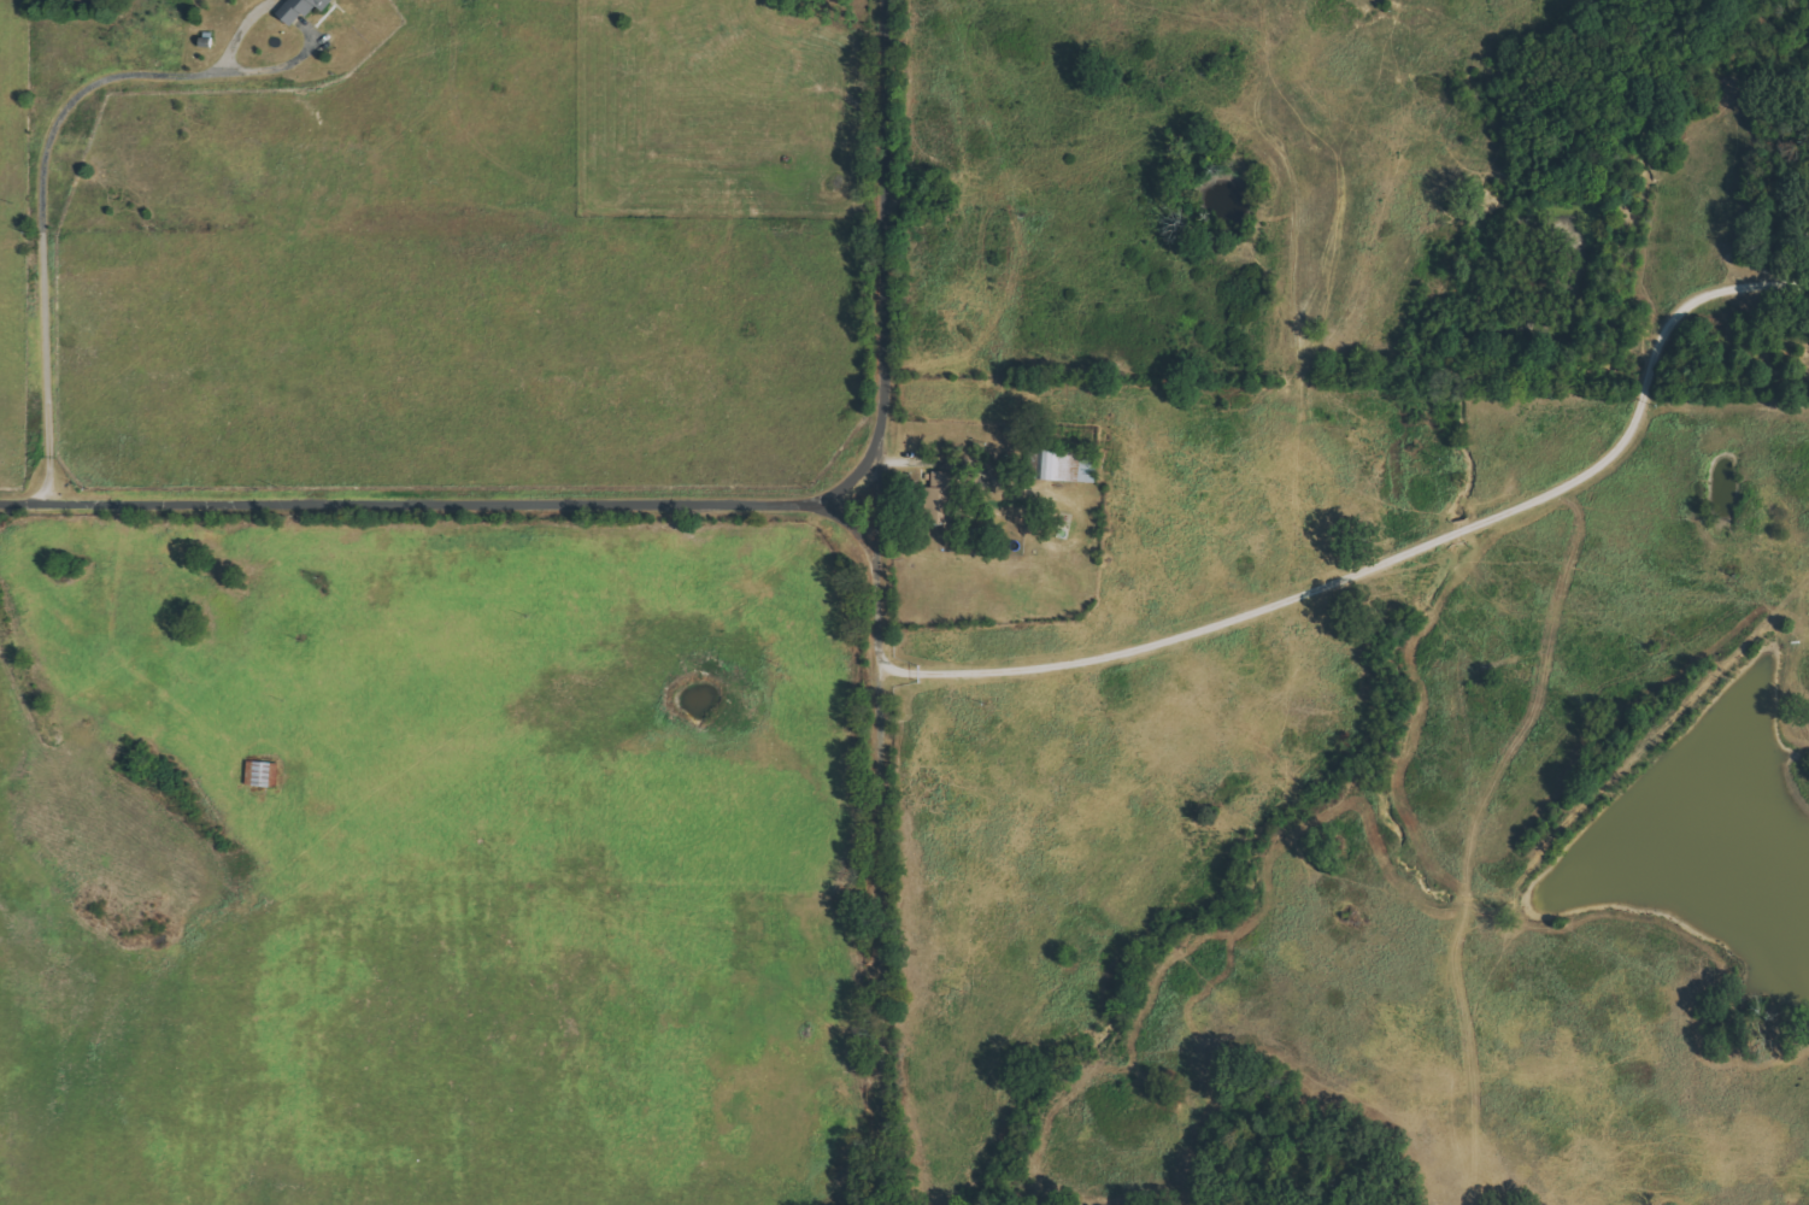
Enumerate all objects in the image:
building: (304, 10)
road: (42, 202)
road: (213, 458)
building: (947, 495)
road: (434, 511)
road: (1391, 554)
road: (870, 602)

